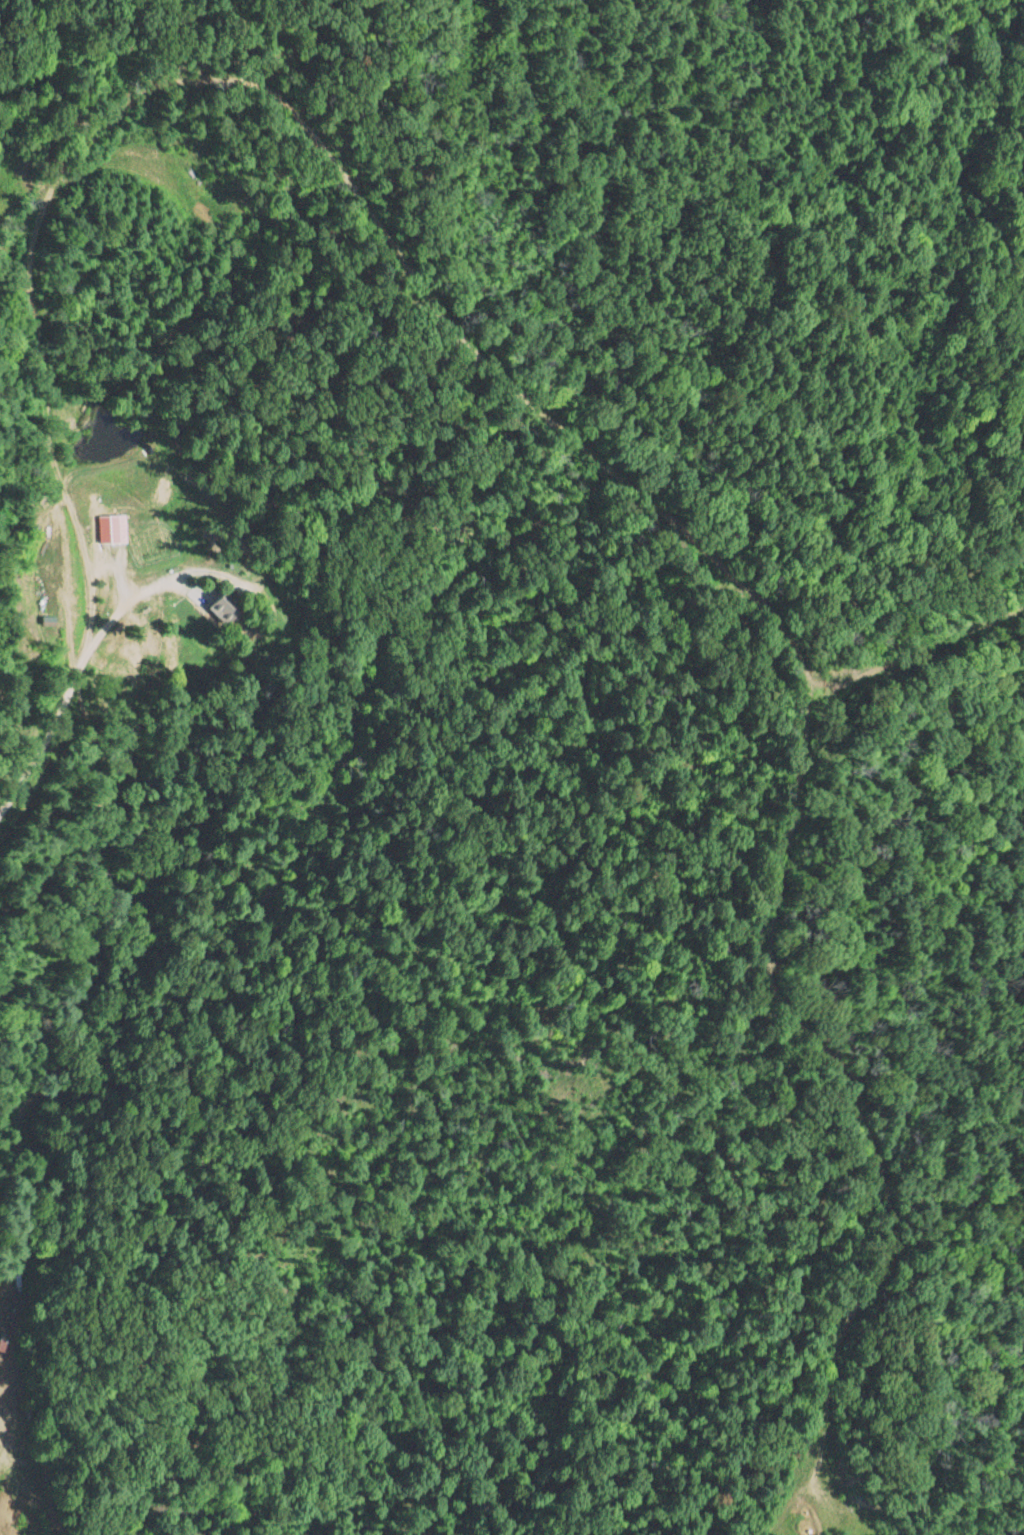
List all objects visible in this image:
building: (226, 606)
building: (8, 1316)
building: (2, 1343)

